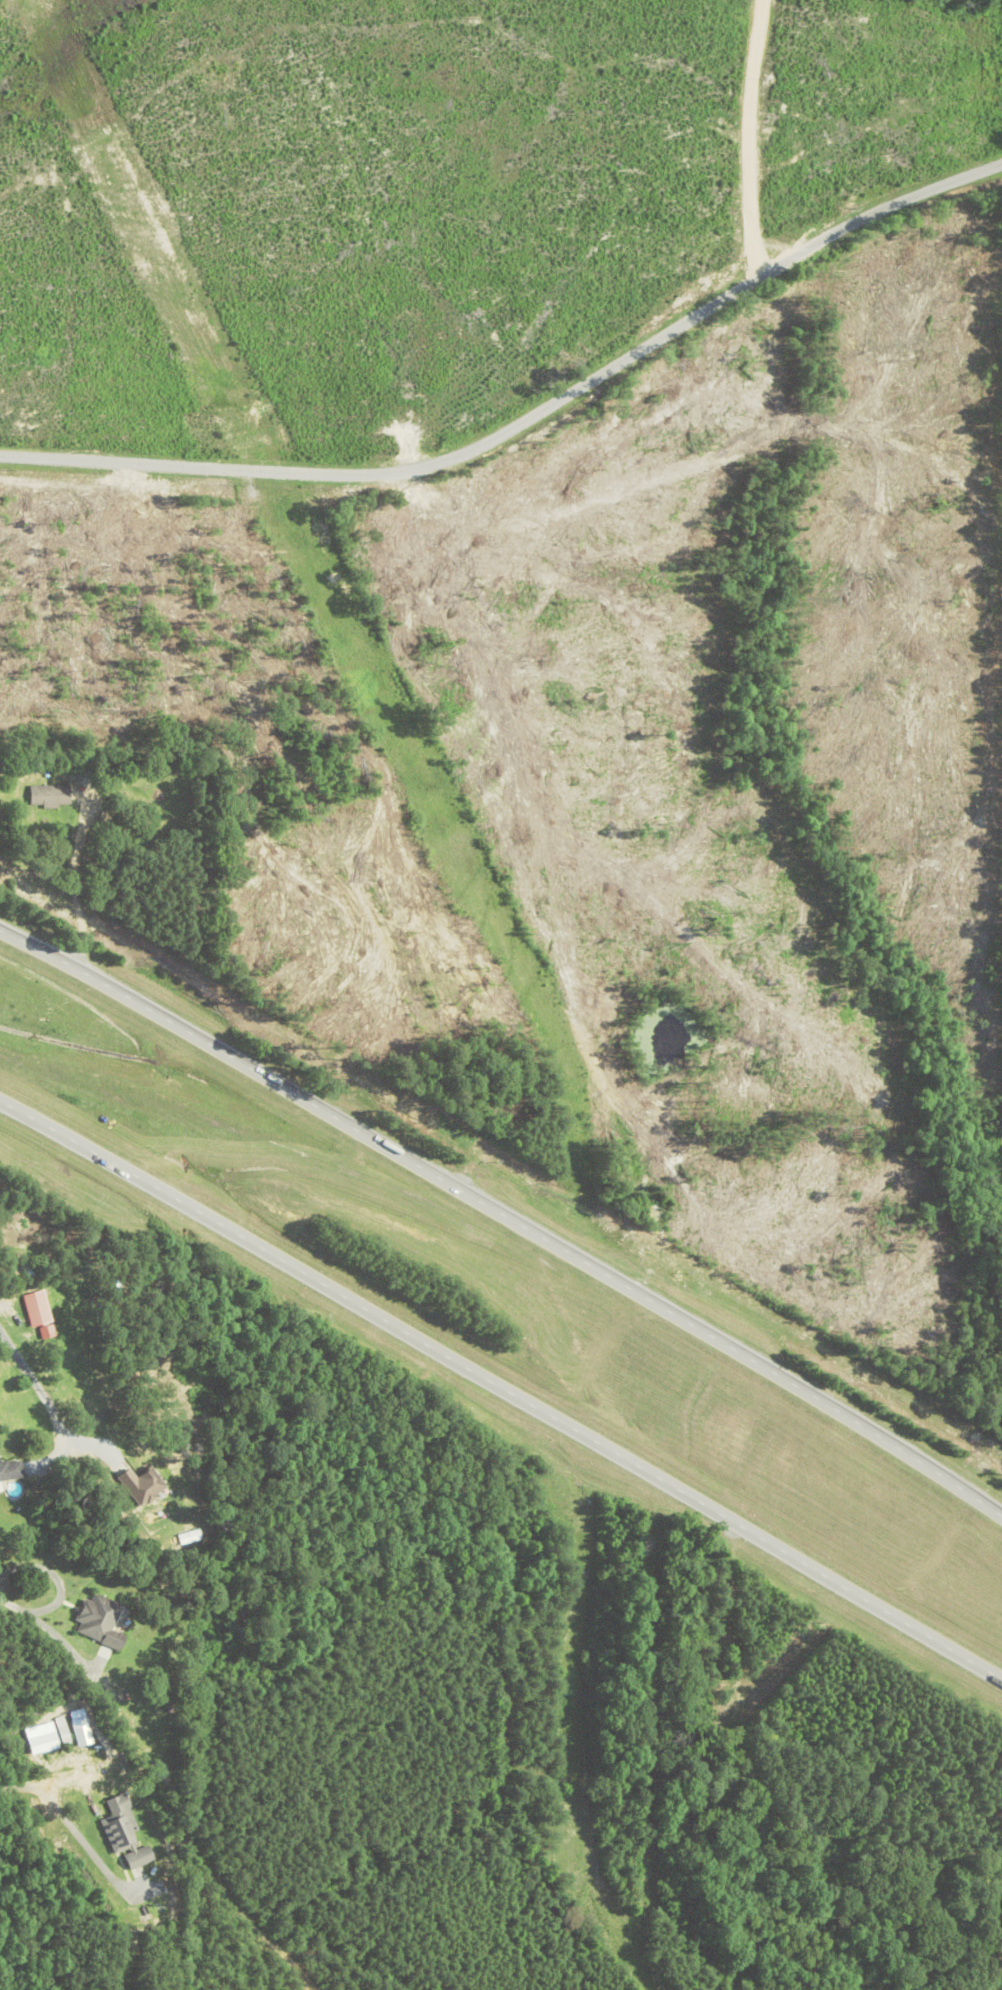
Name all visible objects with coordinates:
road: (759, 138)
road: (528, 419)
building: (50, 796)
road: (72, 877)
road: (128, 999)
road: (220, 1226)
road: (630, 1289)
road: (49, 1381)
building: (11, 1470)
building: (143, 1484)
road: (721, 1517)
building: (101, 1622)
road: (46, 1630)

